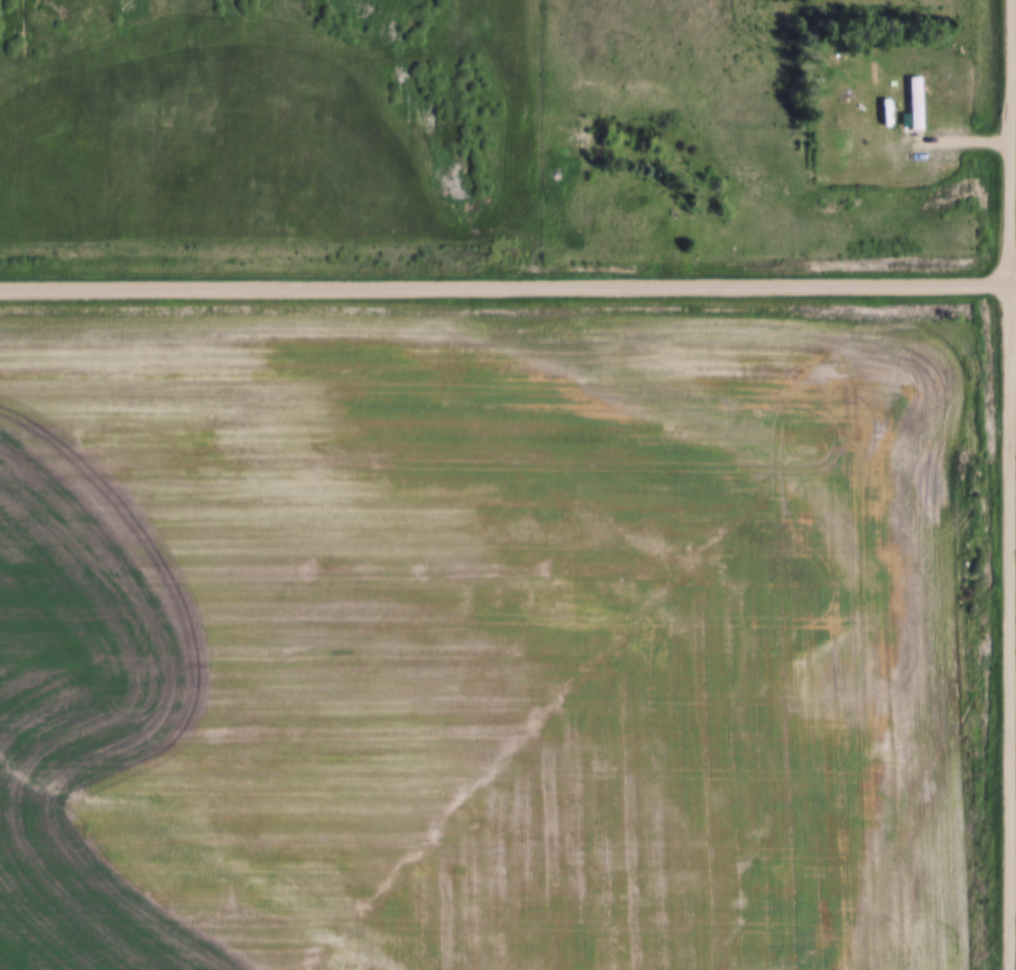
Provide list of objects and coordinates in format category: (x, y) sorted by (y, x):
building: (909, 102)
road: (1015, 140)
road: (508, 287)
road: (1012, 625)

